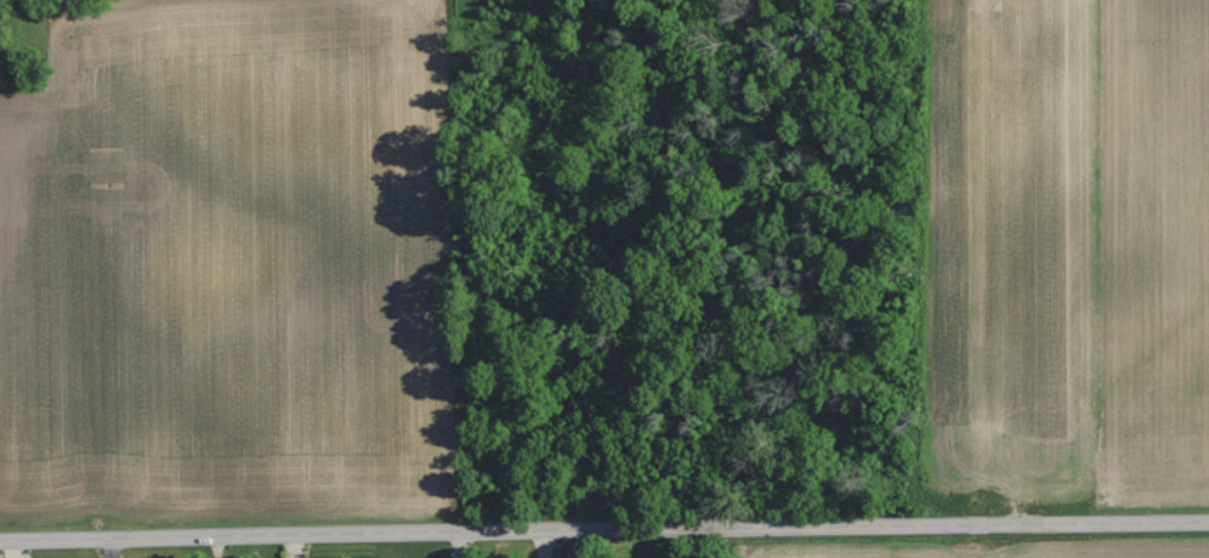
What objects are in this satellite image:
road: (603, 529)

